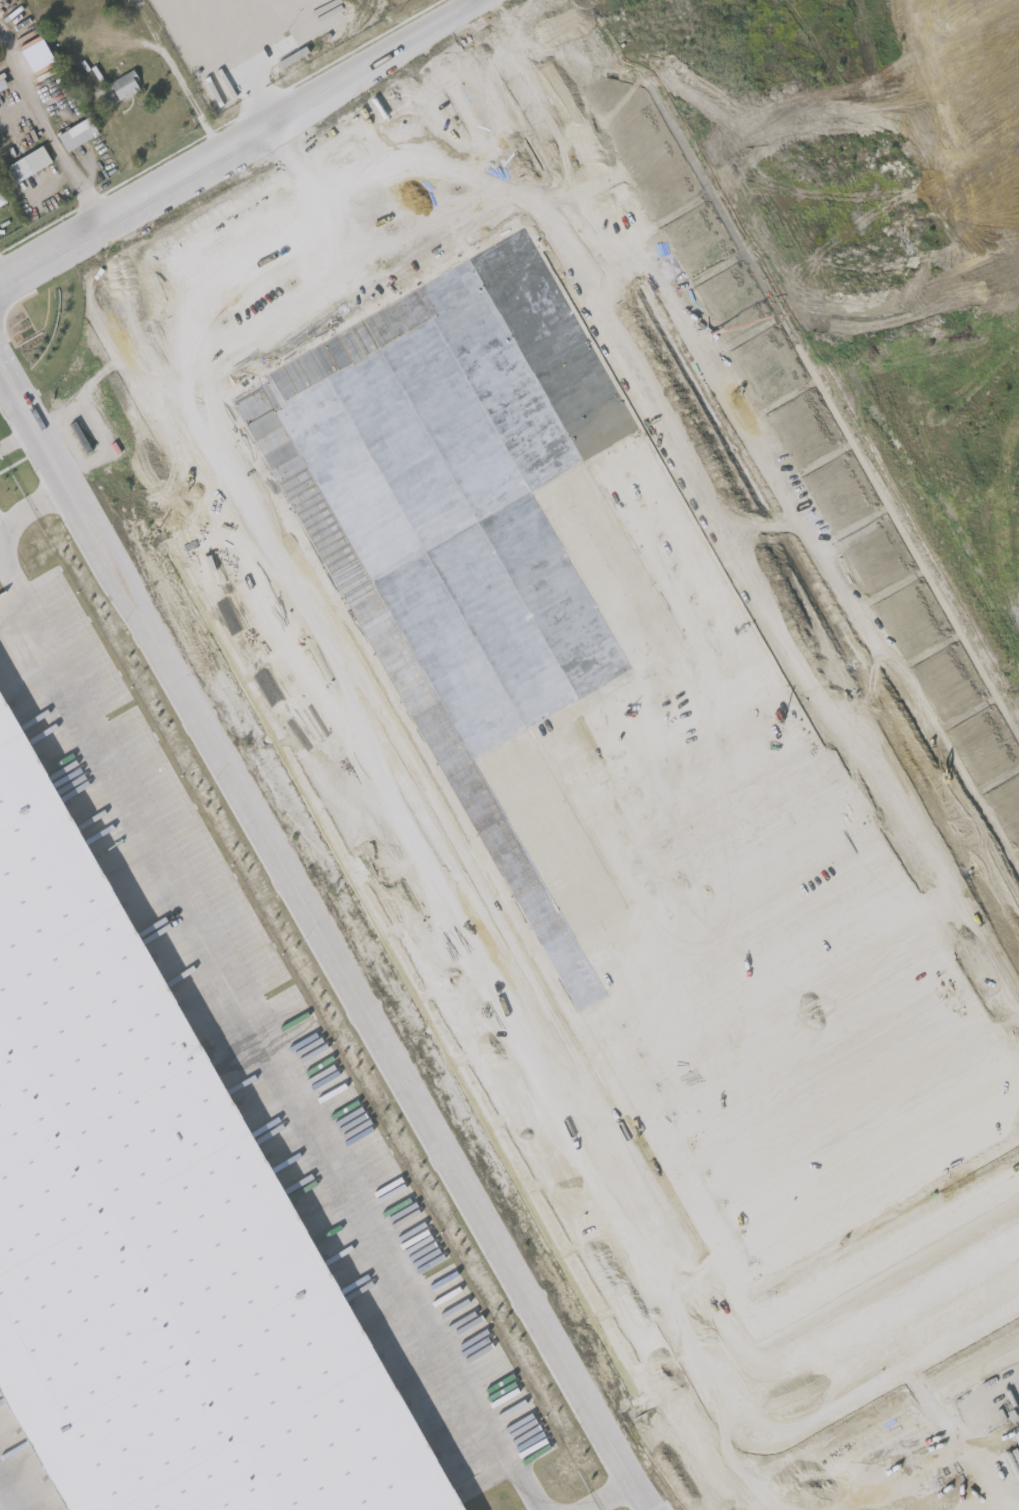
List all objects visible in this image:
road: (839, 58)
road: (173, 74)
road: (25, 90)
building: (120, 91)
building: (79, 136)
road: (237, 139)
road: (384, 143)
building: (29, 167)
road: (76, 179)
building: (3, 199)
road: (314, 204)
road: (223, 237)
road: (333, 260)
road: (849, 304)
road: (245, 353)
road: (22, 381)
road: (34, 427)
road: (12, 439)
road: (750, 471)
road: (67, 486)
road: (31, 507)
road: (72, 515)
road: (100, 526)
road: (487, 966)
road: (260, 1020)
road: (398, 1072)
building: (158, 1228)
road: (606, 1498)

